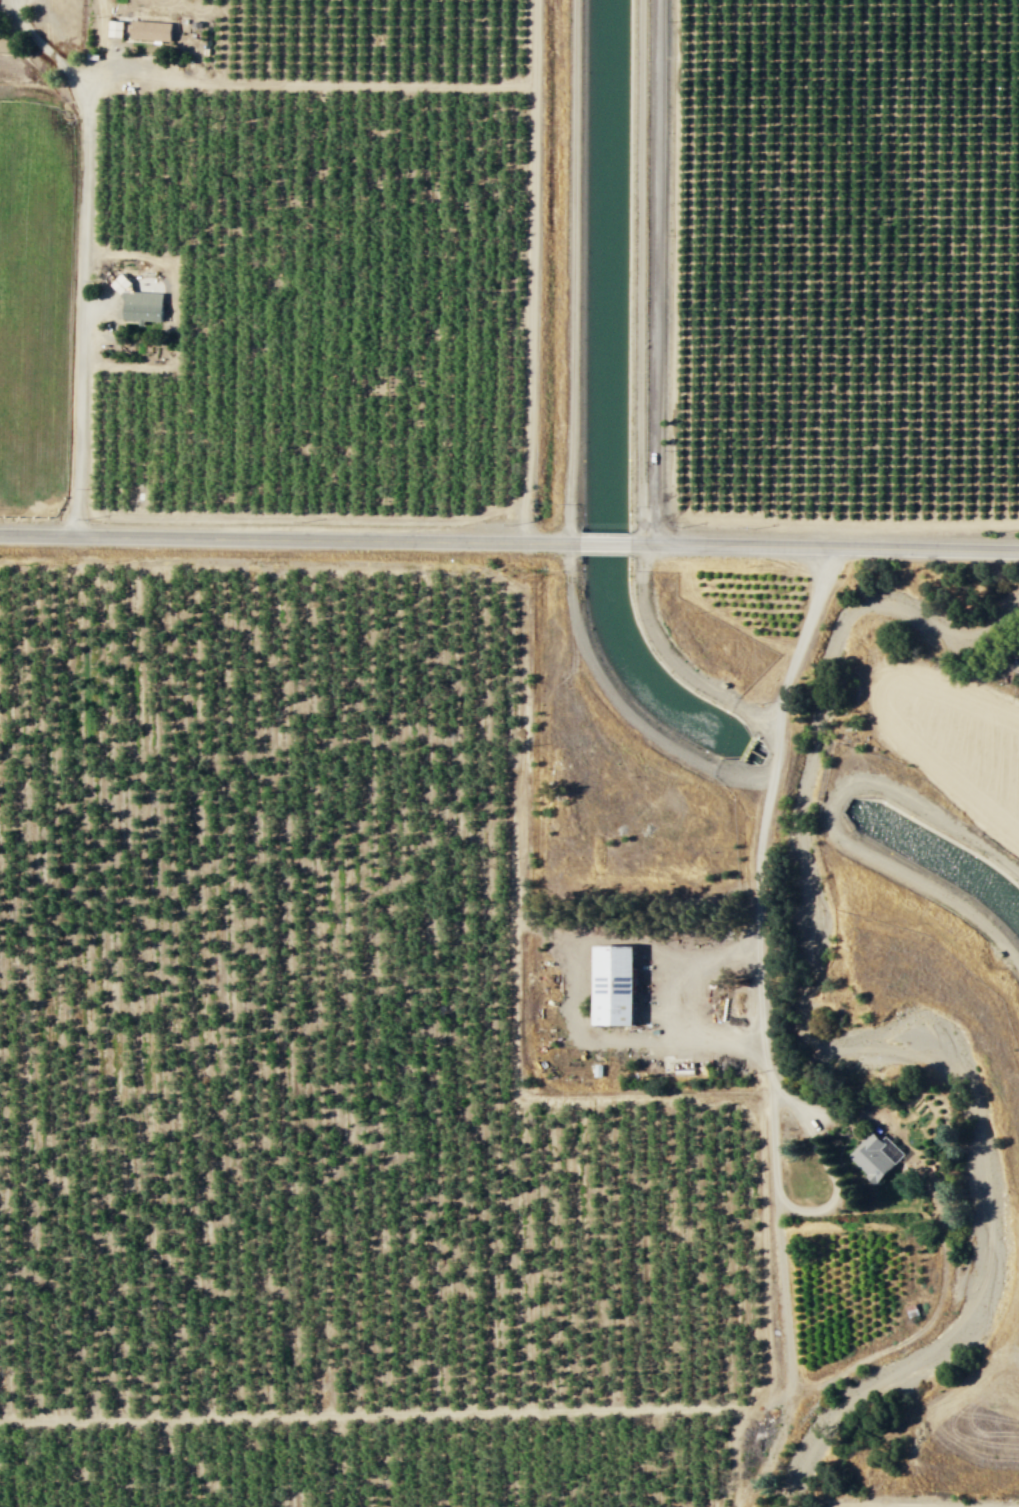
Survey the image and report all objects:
building: (114, 28)
building: (149, 30)
road: (309, 84)
road: (84, 253)
road: (531, 270)
road: (655, 271)
road: (640, 272)
crop: (34, 297)
building: (137, 303)
road: (289, 534)
road: (603, 542)
road: (823, 546)
road: (760, 968)
building: (612, 985)
road: (674, 1001)
building: (875, 1156)
road: (500, 1412)
road: (773, 1448)
road: (734, 1452)
road: (865, 1505)

